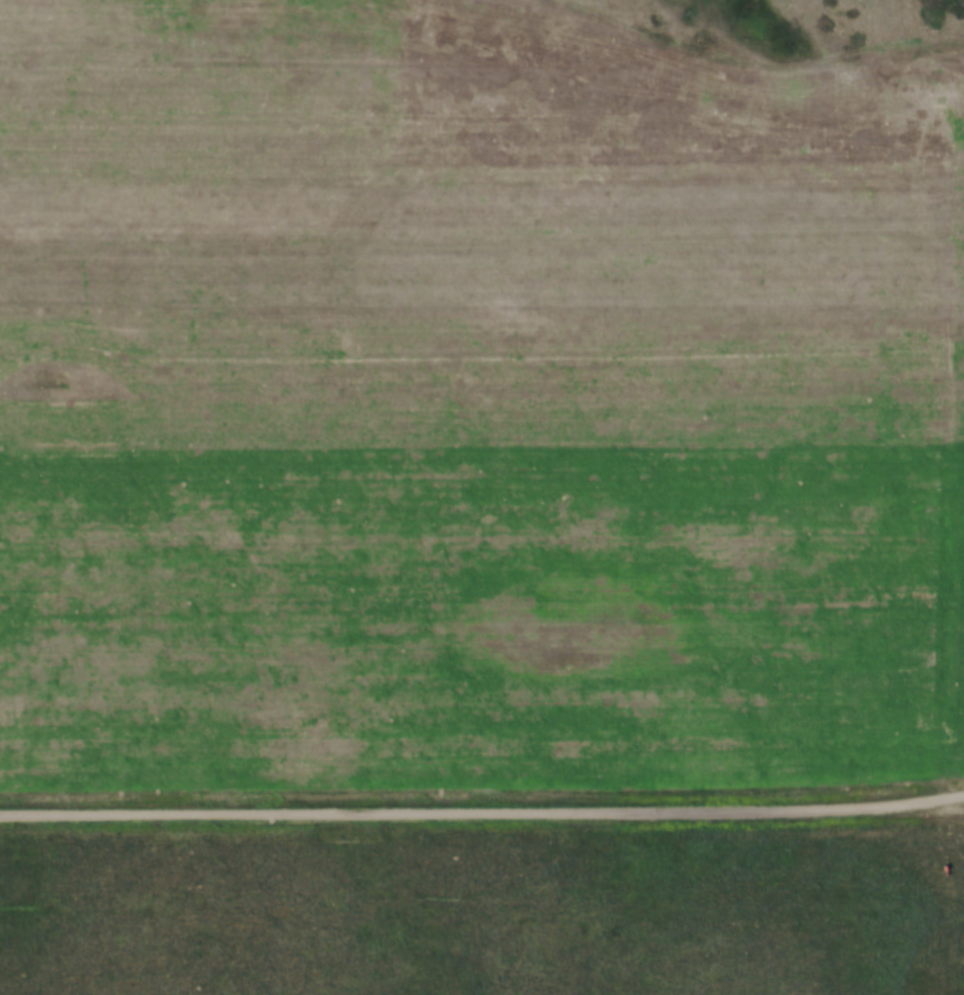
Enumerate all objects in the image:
road: (482, 809)

